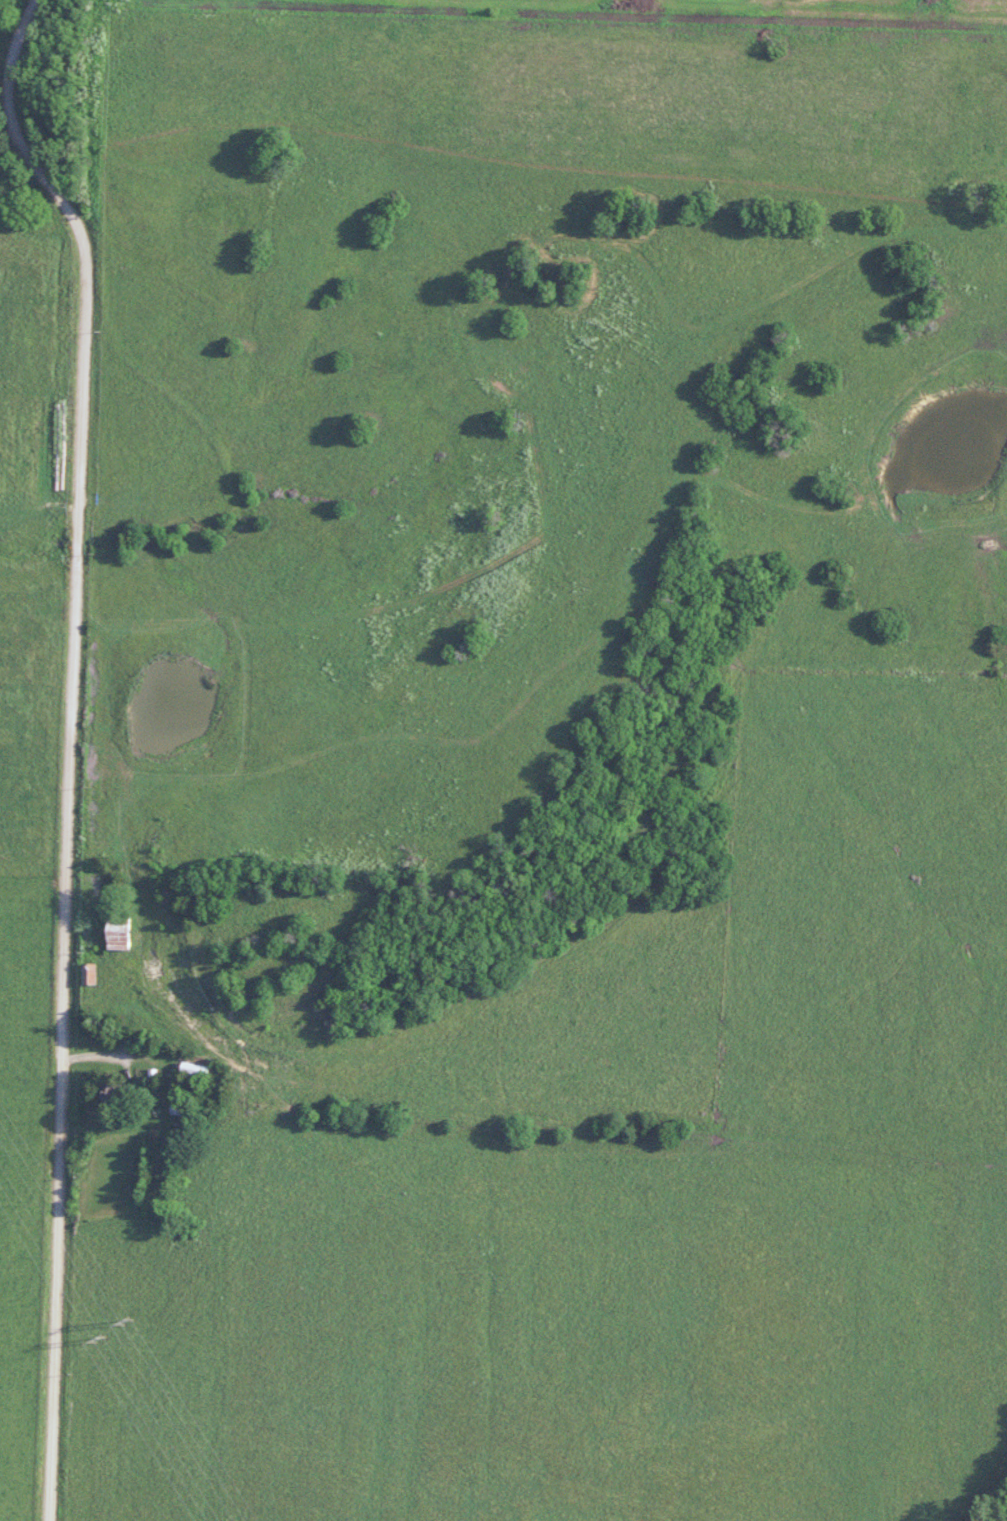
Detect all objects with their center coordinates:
road: (71, 747)
building: (116, 931)
building: (87, 972)
building: (108, 1090)
power tower: (146, 1320)
power tower: (105, 1339)

